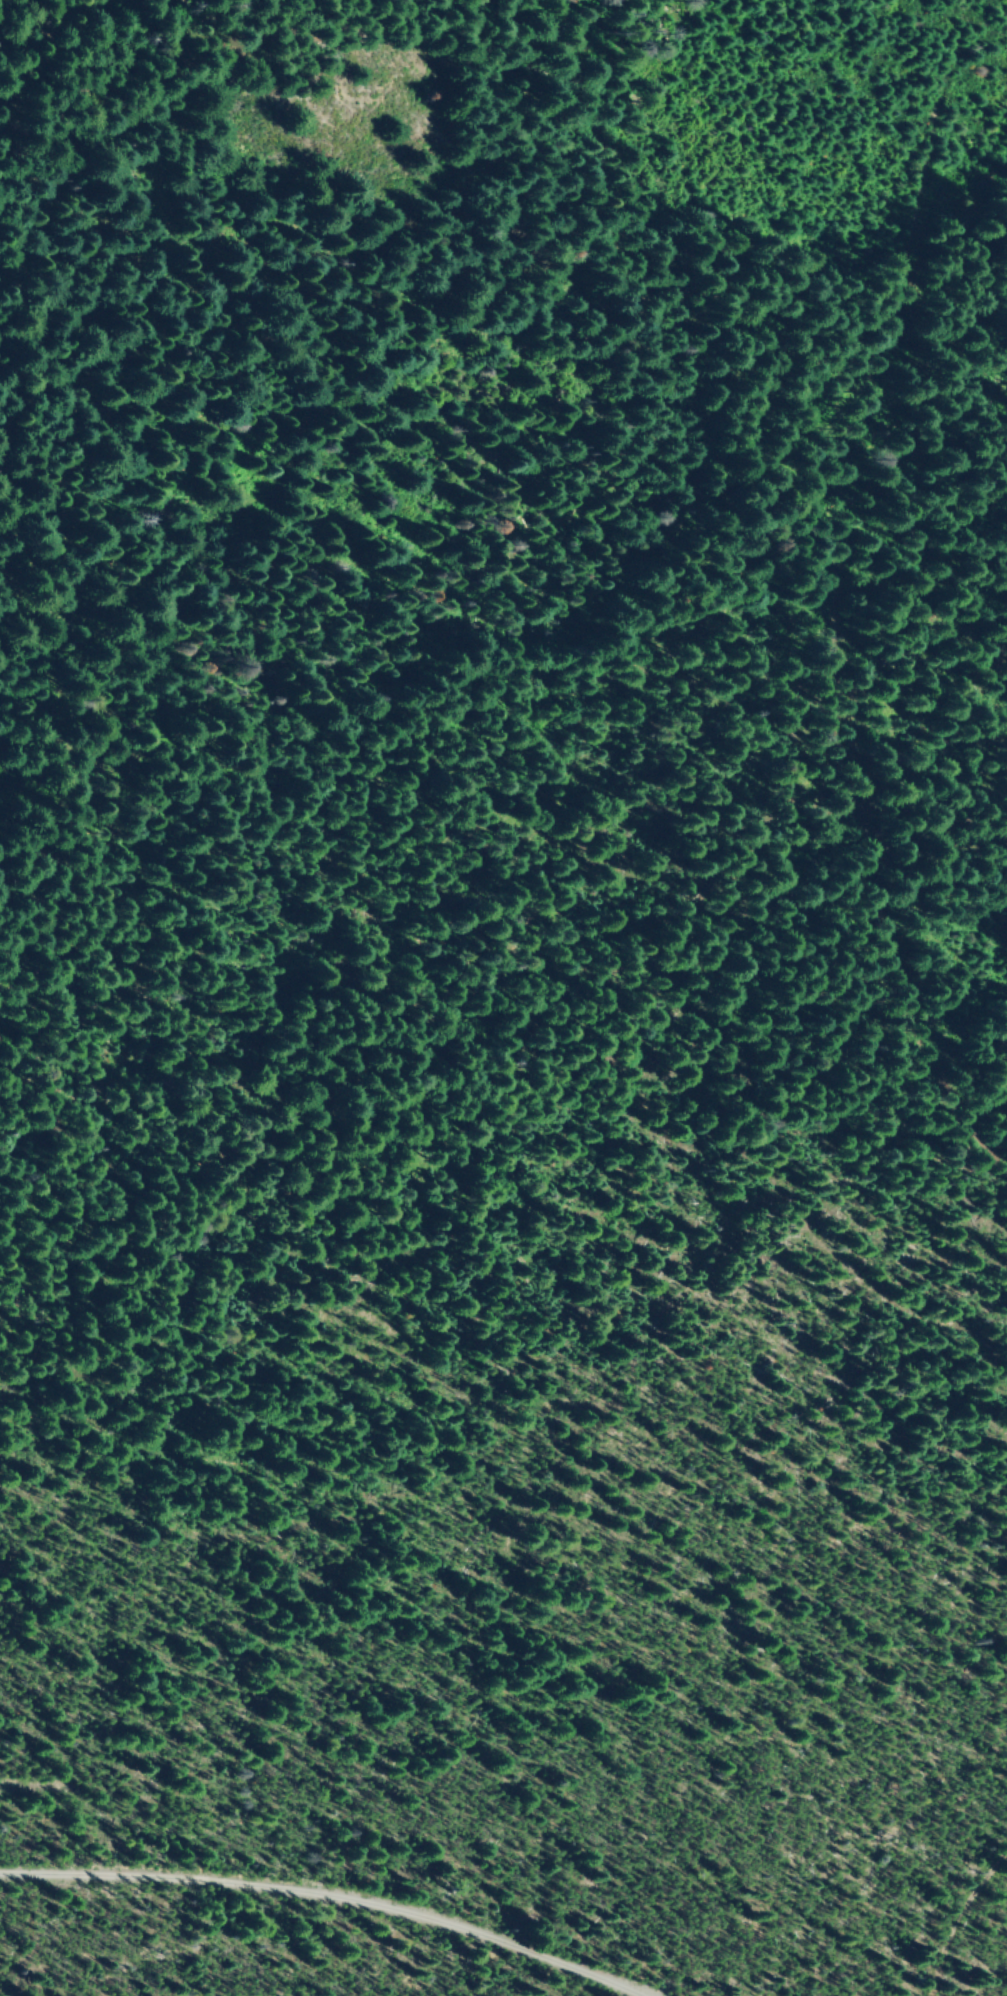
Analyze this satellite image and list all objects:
road: (326, 1900)

